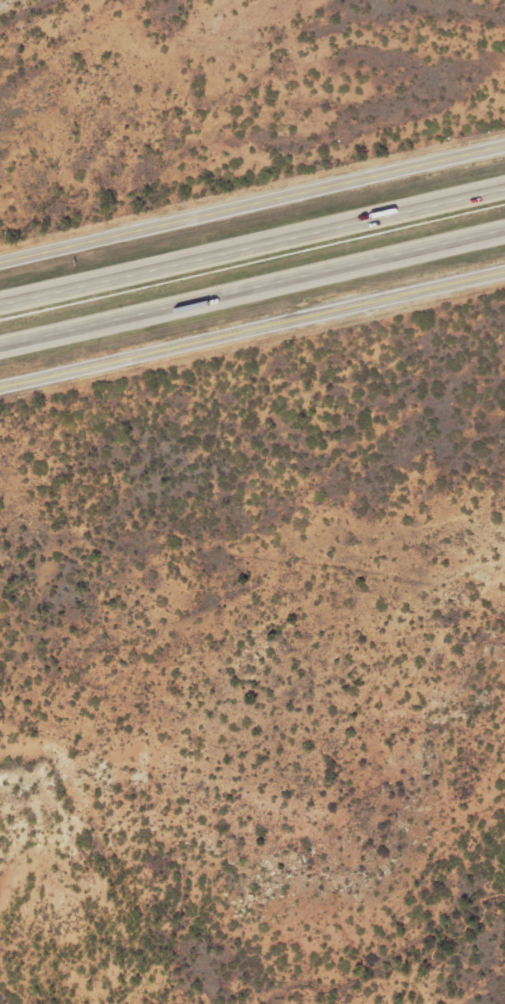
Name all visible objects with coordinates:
road: (2, 1)
road: (253, 188)
road: (297, 236)
road: (252, 286)
road: (44, 295)
road: (252, 323)

